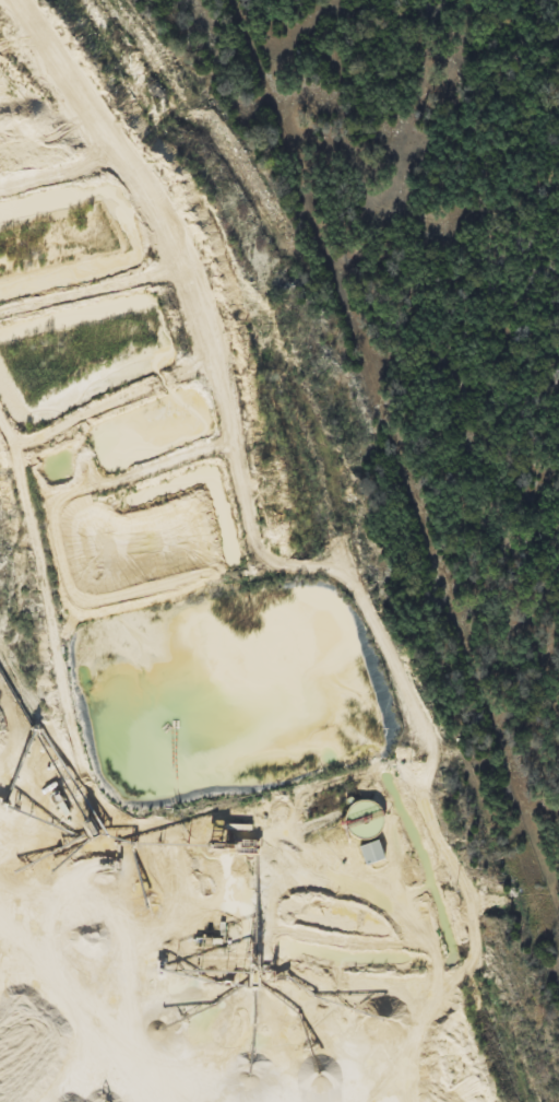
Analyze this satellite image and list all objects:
quarry: (190, 646)

